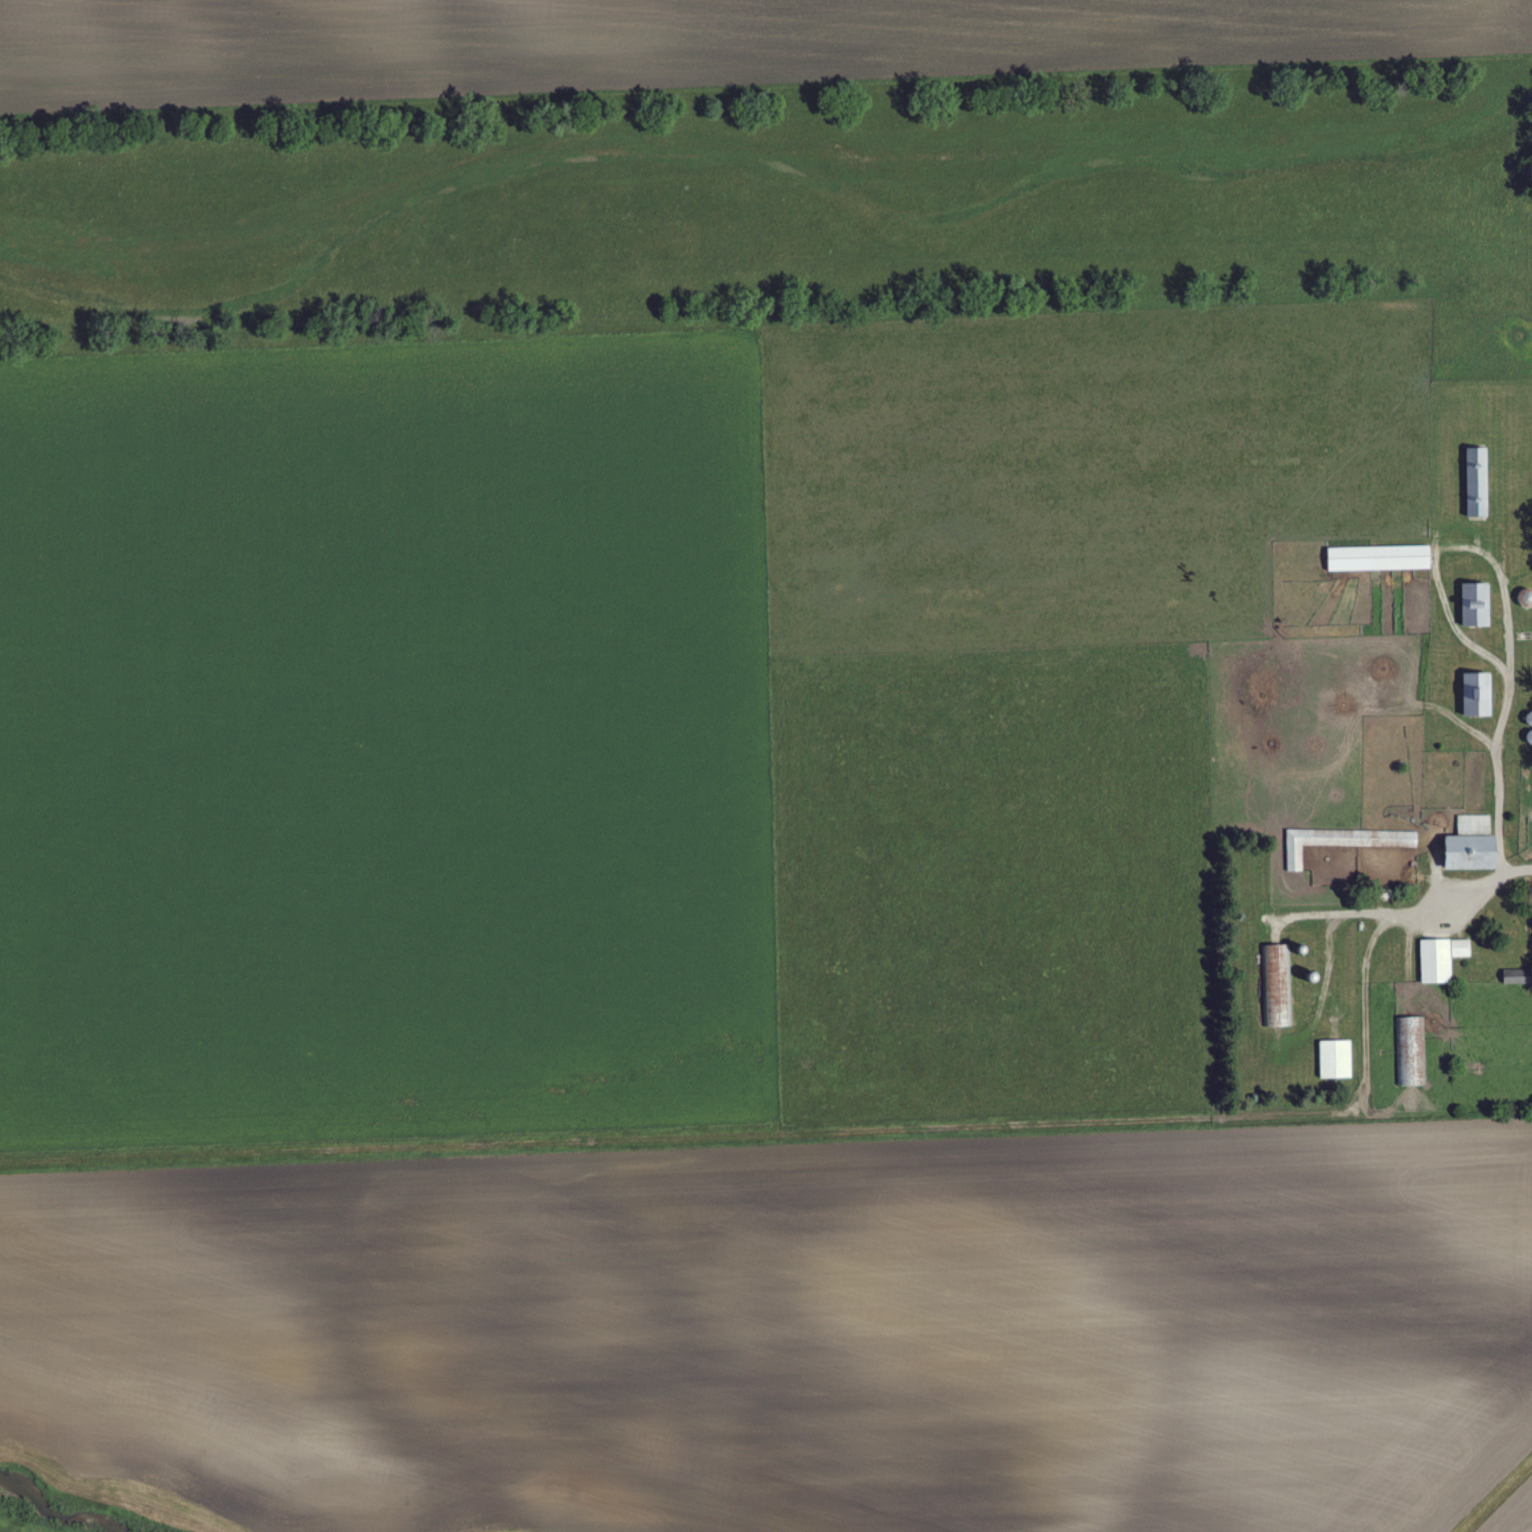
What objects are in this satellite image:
road: (1446, 547)
building: (1476, 605)
building: (1478, 695)
road: (1499, 783)
building: (1472, 845)
building: (1441, 959)
building: (1517, 976)
building: (1411, 1052)
building: (1335, 1060)

